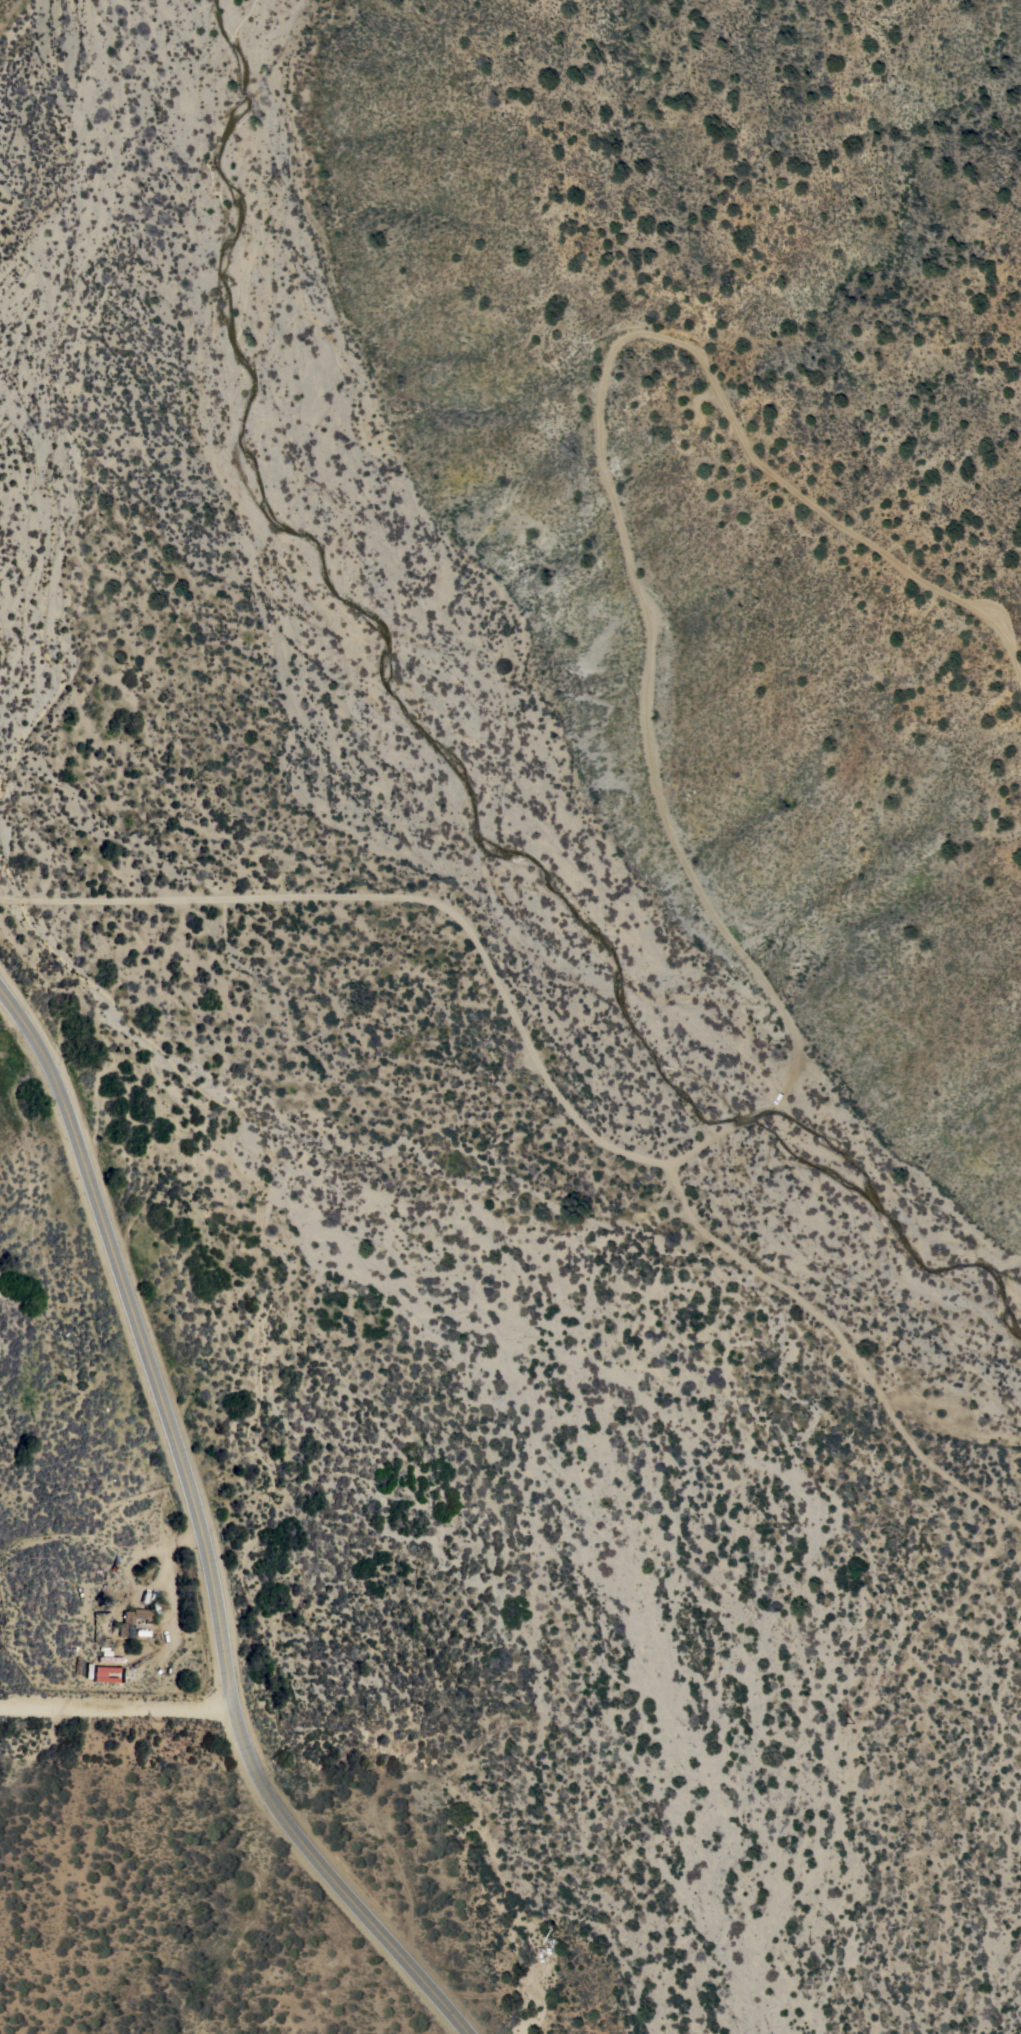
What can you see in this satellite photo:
road: (714, 912)
road: (203, 1527)
building: (131, 1620)
building: (102, 1670)
building: (104, 1680)
road: (115, 1709)

